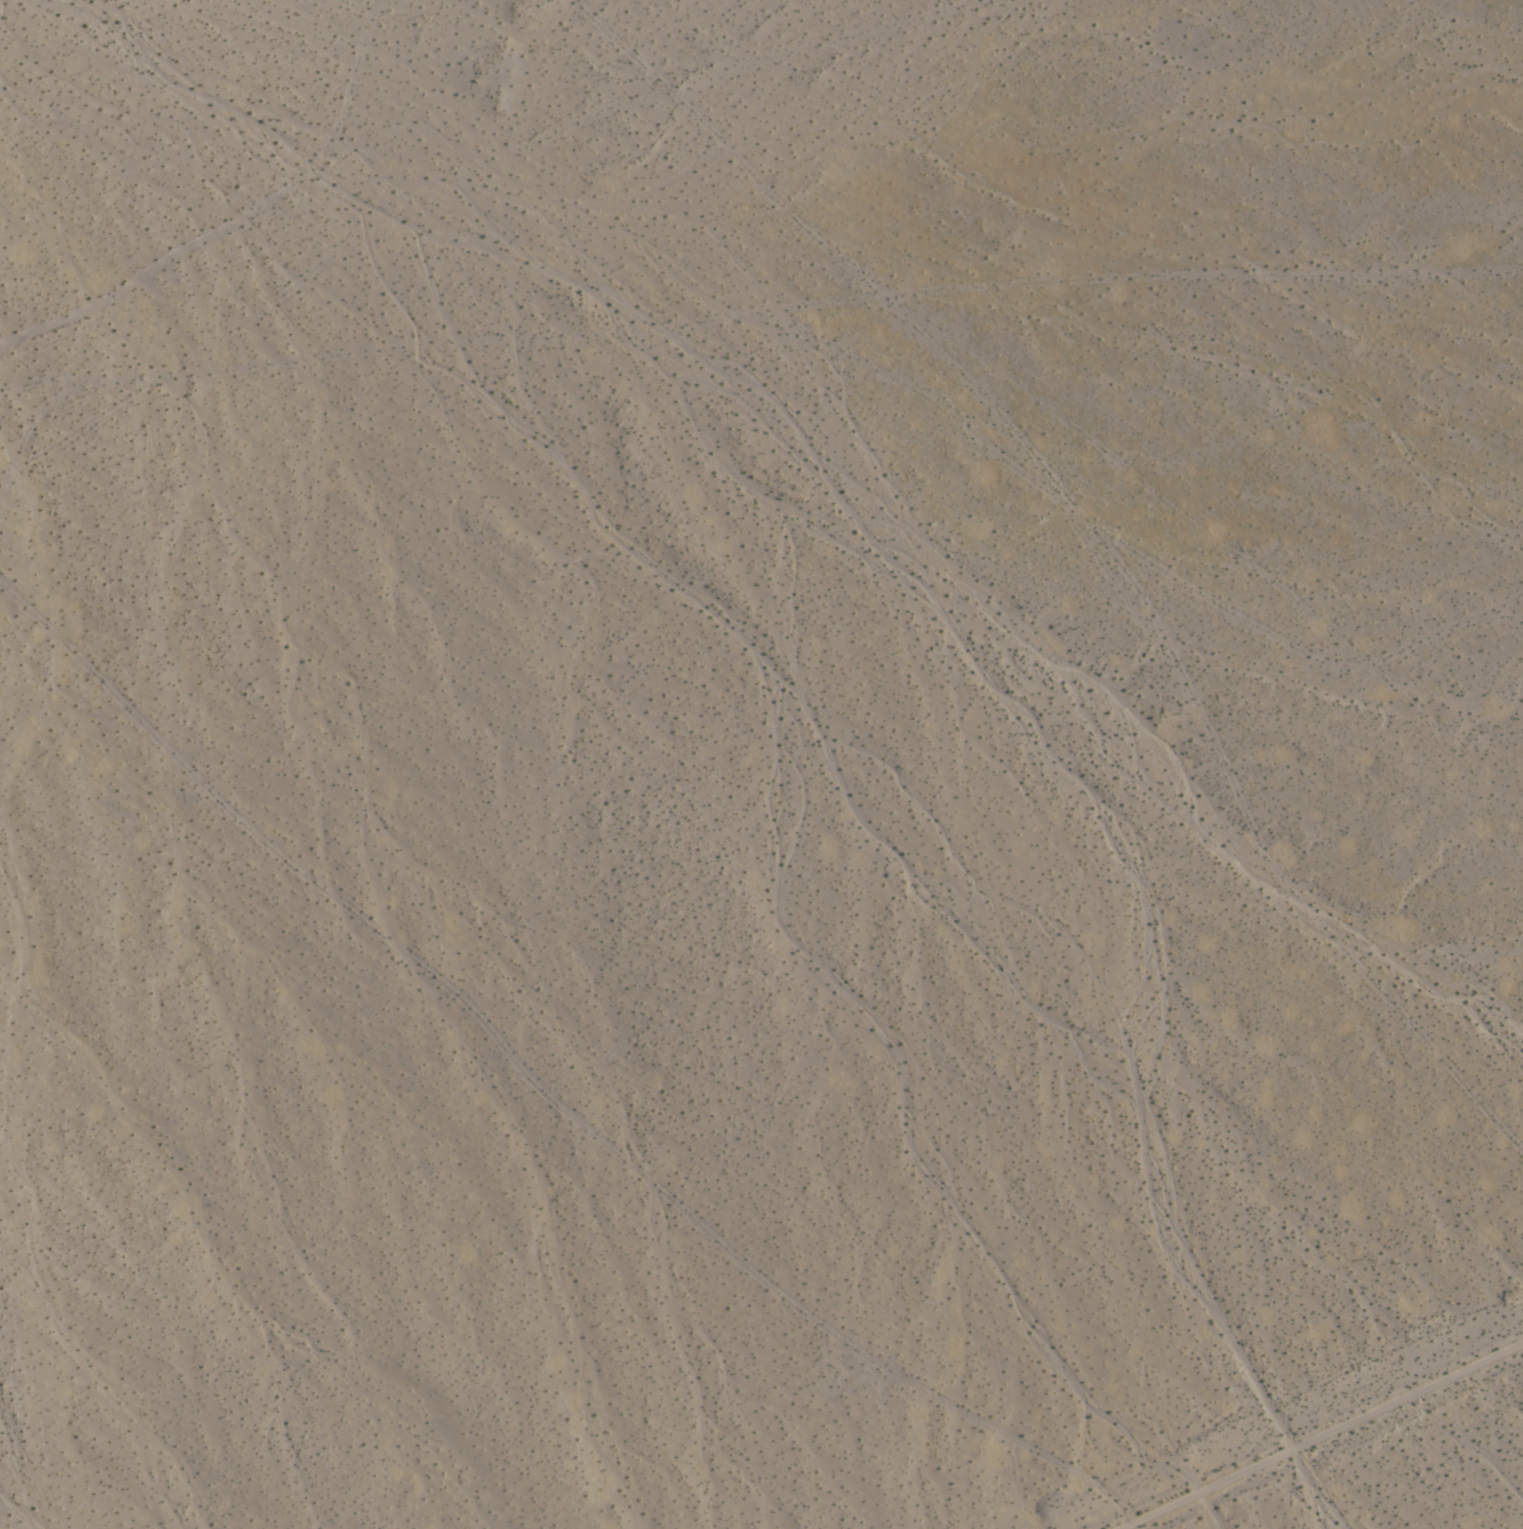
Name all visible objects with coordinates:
road: (1314, 1436)

